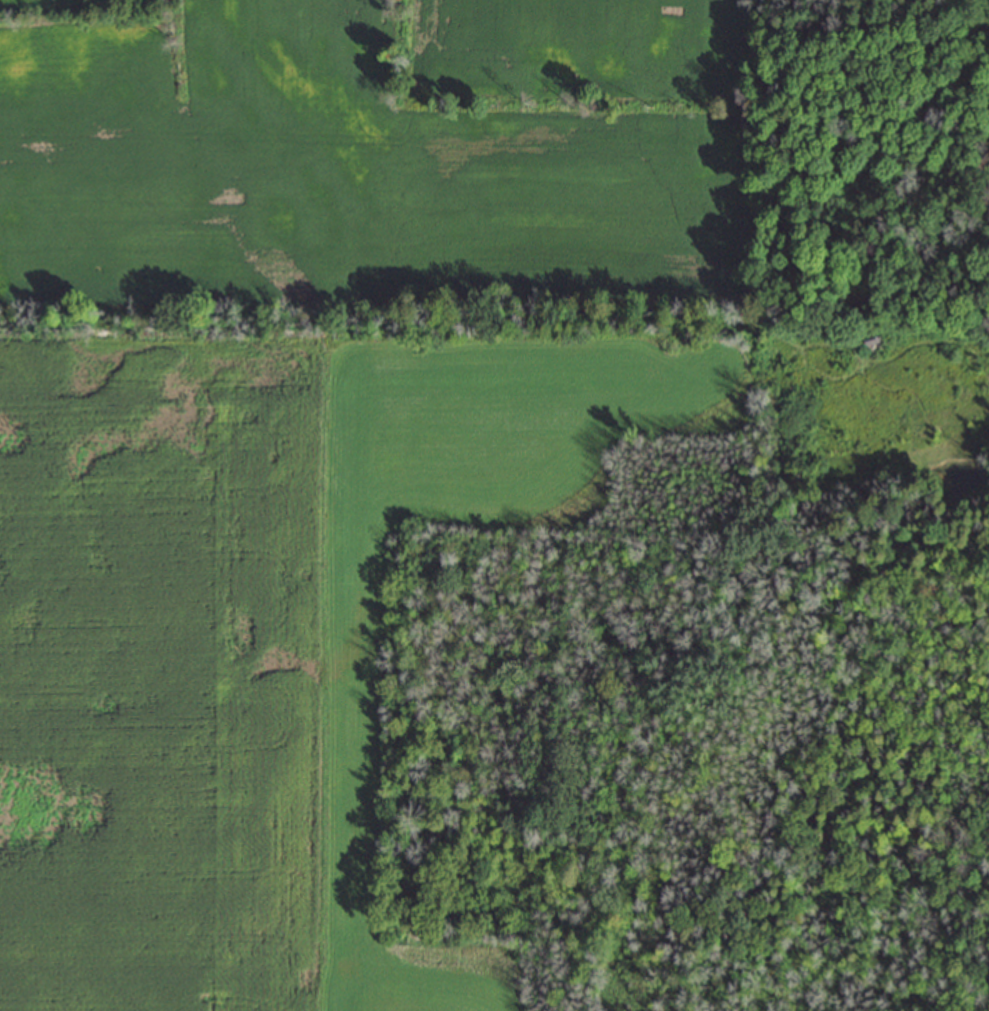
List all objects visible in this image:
building: (869, 342)

